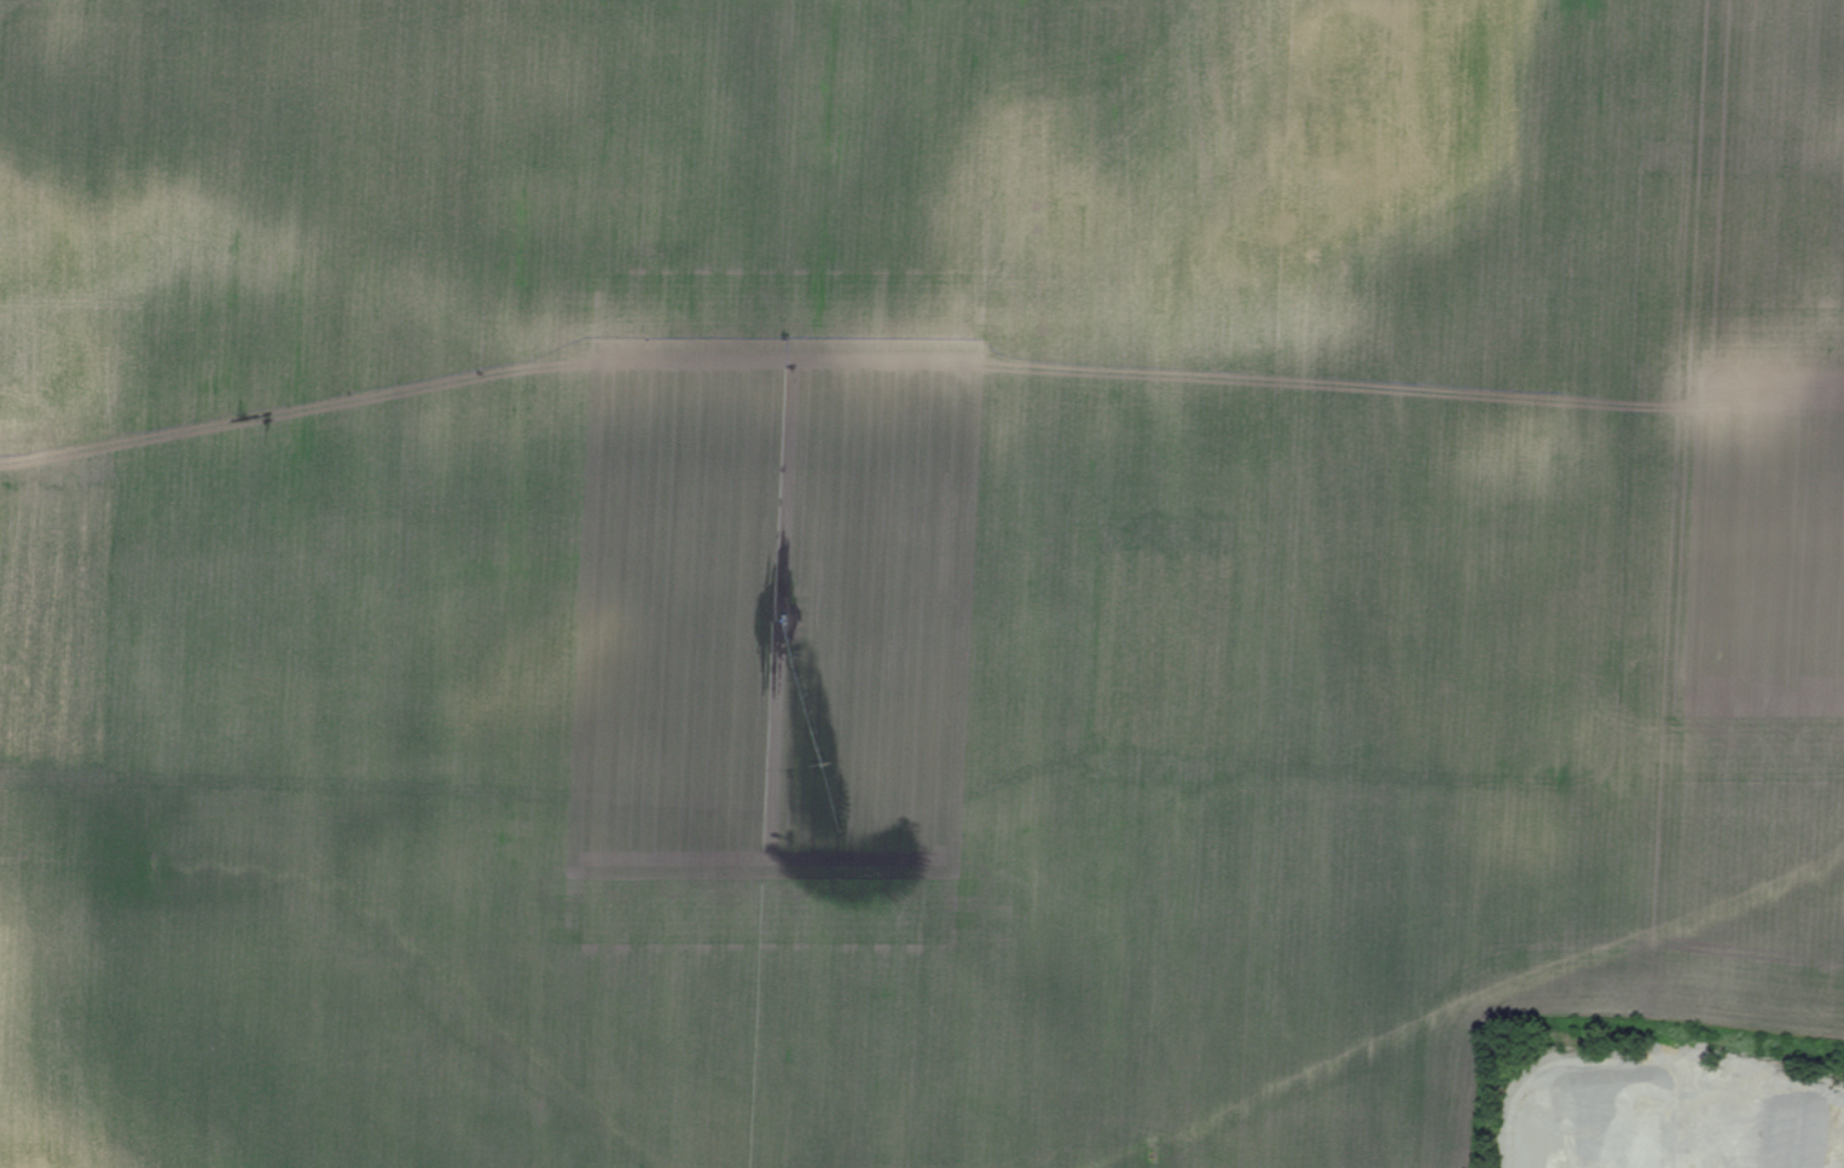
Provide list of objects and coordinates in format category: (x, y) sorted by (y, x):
quarry: (1653, 1097)

